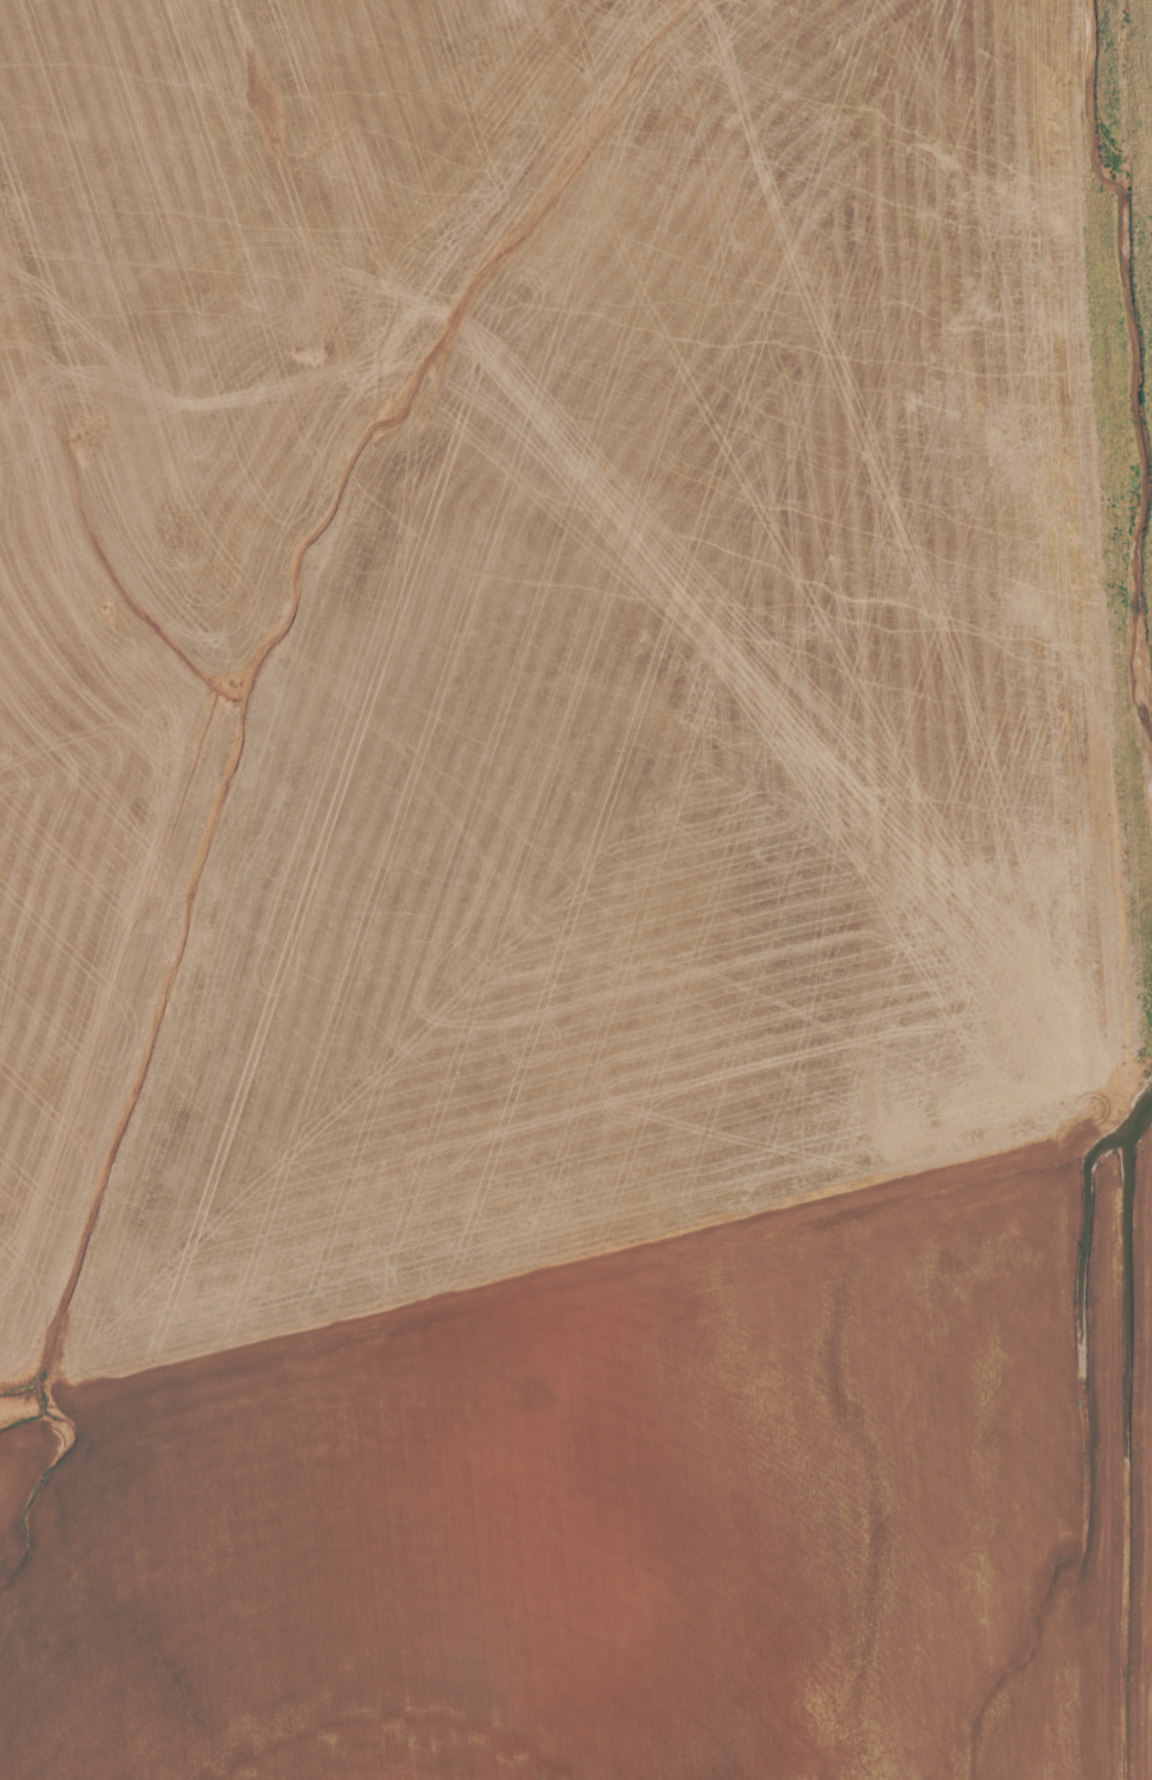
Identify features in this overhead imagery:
road: (97, 101)

